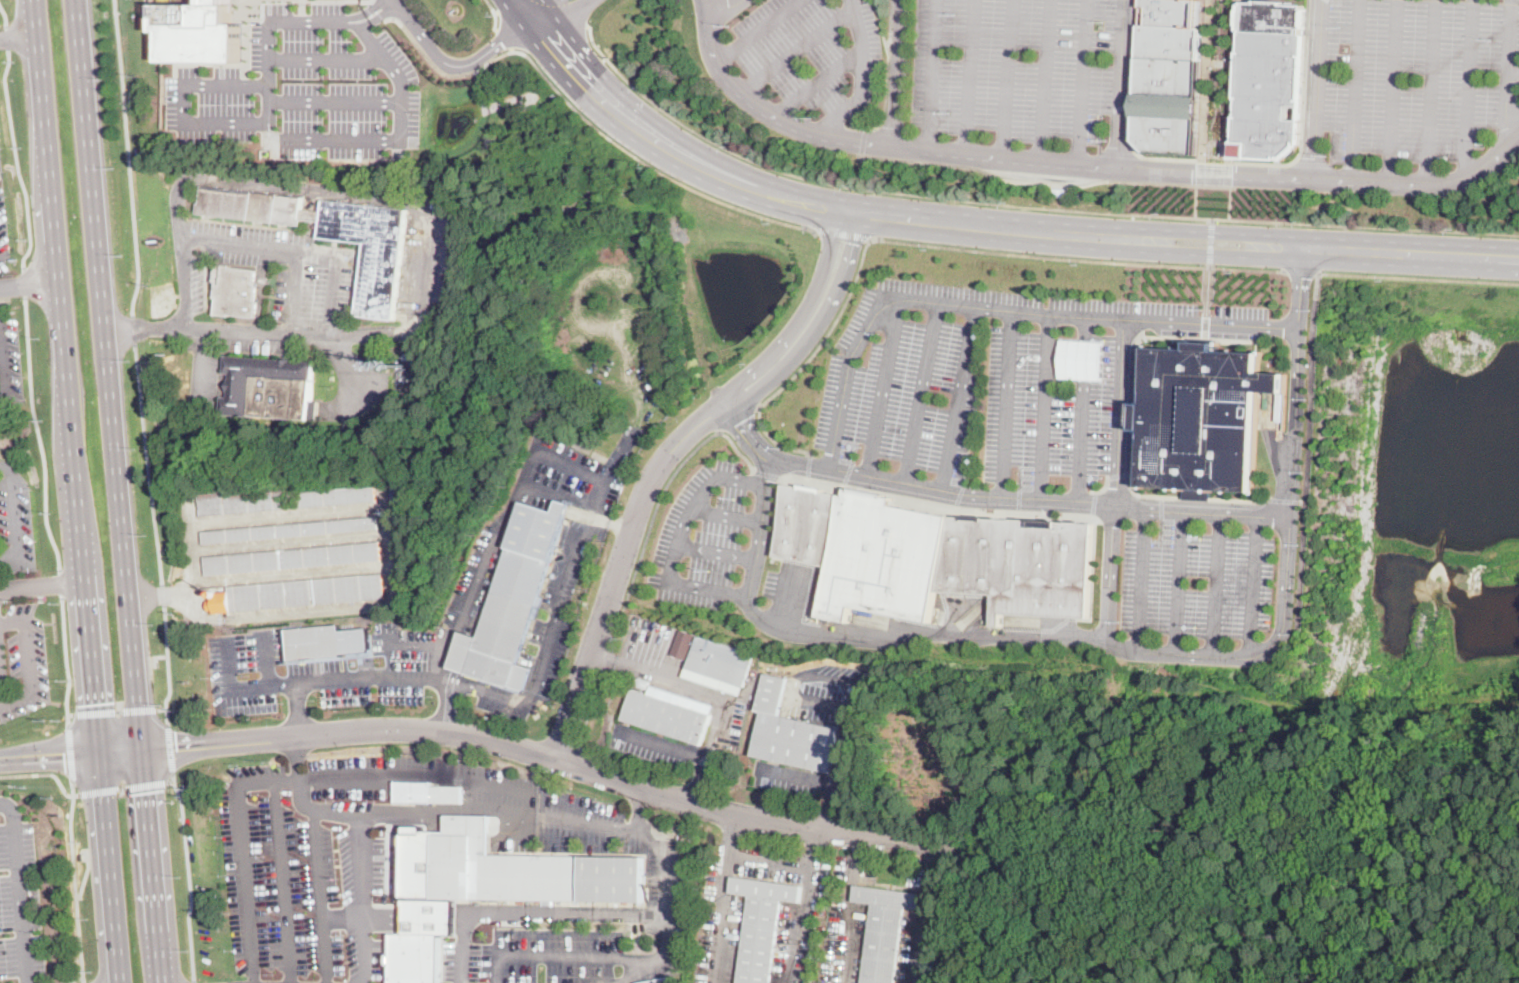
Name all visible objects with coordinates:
road: (335, 0)
road: (724, 6)
road: (375, 8)
road: (570, 9)
road: (153, 11)
road: (495, 13)
road: (5, 14)
road: (513, 14)
road: (533, 14)
road: (576, 14)
road: (558, 17)
road: (318, 19)
road: (541, 24)
road: (879, 25)
road: (758, 30)
building: (1169, 30)
road: (540, 34)
road: (19, 35)
building: (207, 35)
road: (504, 36)
road: (8, 37)
road: (795, 48)
parking lot: (787, 50)
road: (308, 58)
parking lot: (869, 62)
road: (449, 63)
parking lot: (1013, 68)
road: (1509, 68)
road: (885, 69)
road: (271, 70)
road: (896, 73)
road: (930, 74)
road: (968, 76)
road: (861, 77)
parking lot: (1416, 77)
road: (1007, 78)
road: (1514, 79)
road: (1044, 80)
building: (1268, 81)
road: (1083, 82)
road: (815, 83)
road: (1118, 84)
parking lot: (304, 89)
road: (1469, 89)
road: (1315, 90)
road: (1354, 91)
road: (1393, 92)
road: (1428, 93)
road: (334, 99)
building: (1166, 105)
road: (764, 111)
road: (583, 114)
road: (267, 138)
road: (861, 140)
road: (978, 154)
road: (1161, 155)
road: (127, 156)
road: (16, 160)
road: (1265, 161)
road: (1089, 165)
road: (1199, 170)
road: (1226, 172)
road: (1326, 181)
road: (1059, 182)
road: (297, 185)
road: (1195, 200)
road: (822, 204)
road: (1026, 204)
road: (1211, 230)
road: (844, 232)
building: (332, 236)
road: (898, 239)
road: (1209, 240)
road: (237, 241)
road: (1401, 250)
road: (1210, 253)
road: (1248, 267)
road: (1303, 270)
road: (338, 273)
road: (1418, 276)
road: (24, 283)
road: (29, 284)
building: (236, 291)
road: (917, 300)
road: (1125, 325)
road: (132, 326)
road: (305, 332)
building: (410, 357)
road: (3, 363)
road: (202, 365)
road: (107, 375)
building: (270, 388)
road: (884, 389)
parking lot: (997, 390)
road: (922, 394)
road: (961, 400)
road: (1007, 403)
road: (1045, 407)
road: (1083, 409)
building: (1202, 419)
road: (738, 421)
road: (39, 434)
road: (1309, 449)
road: (665, 458)
road: (148, 462)
parking lot: (574, 473)
road: (907, 486)
road: (76, 491)
building: (282, 500)
road: (658, 504)
road: (725, 513)
road: (16, 519)
parking lot: (14, 521)
building: (803, 524)
building: (291, 530)
building: (402, 536)
parking lot: (712, 536)
road: (713, 550)
building: (881, 558)
building: (292, 559)
road: (387, 563)
building: (1019, 564)
parking lot: (478, 574)
road: (665, 578)
parking lot: (1197, 578)
road: (1140, 579)
road: (1177, 582)
road: (62, 583)
road: (41, 585)
road: (1214, 585)
road: (1253, 585)
road: (163, 593)
building: (295, 593)
building: (512, 601)
parking lot: (545, 630)
road: (918, 634)
road: (434, 639)
building: (326, 641)
road: (1235, 654)
road: (607, 656)
building: (682, 656)
road: (28, 658)
road: (267, 658)
parking lot: (409, 658)
parking lot: (21, 660)
road: (67, 661)
building: (719, 661)
road: (168, 666)
parking lot: (276, 673)
building: (712, 681)
road: (795, 681)
building: (642, 684)
road: (1, 687)
building: (856, 689)
road: (714, 692)
parking lot: (822, 692)
road: (507, 696)
building: (681, 700)
traffic signals: (93, 703)
road: (450, 705)
road: (162, 708)
road: (112, 711)
road: (295, 711)
road: (590, 711)
building: (667, 717)
building: (791, 733)
parking lot: (652, 745)
road: (662, 745)
road: (170, 748)
road: (120, 751)
traffic signals: (176, 751)
road: (72, 752)
road: (48, 753)
traffic signals: (64, 753)
road: (544, 756)
road: (841, 767)
road: (413, 772)
road: (44, 775)
road: (798, 777)
parking lot: (788, 779)
road: (172, 781)
road: (123, 787)
traffic signals: (147, 792)
building: (428, 793)
road: (503, 810)
road: (362, 834)
road: (732, 834)
road: (812, 846)
road: (661, 849)
road: (240, 850)
road: (766, 859)
parking lot: (304, 864)
road: (154, 866)
building: (509, 868)
road: (85, 874)
road: (189, 875)
road: (281, 880)
road: (75, 882)
road: (22, 887)
parking lot: (18, 894)
road: (321, 894)
road: (848, 905)
road: (527, 911)
road: (924, 913)
building: (429, 916)
road: (342, 919)
building: (762, 925)
building: (885, 929)
road: (557, 954)
parking lot: (537, 956)
building: (415, 957)
road: (651, 958)
road: (75, 979)
building: (661, 980)
road: (194, 982)

